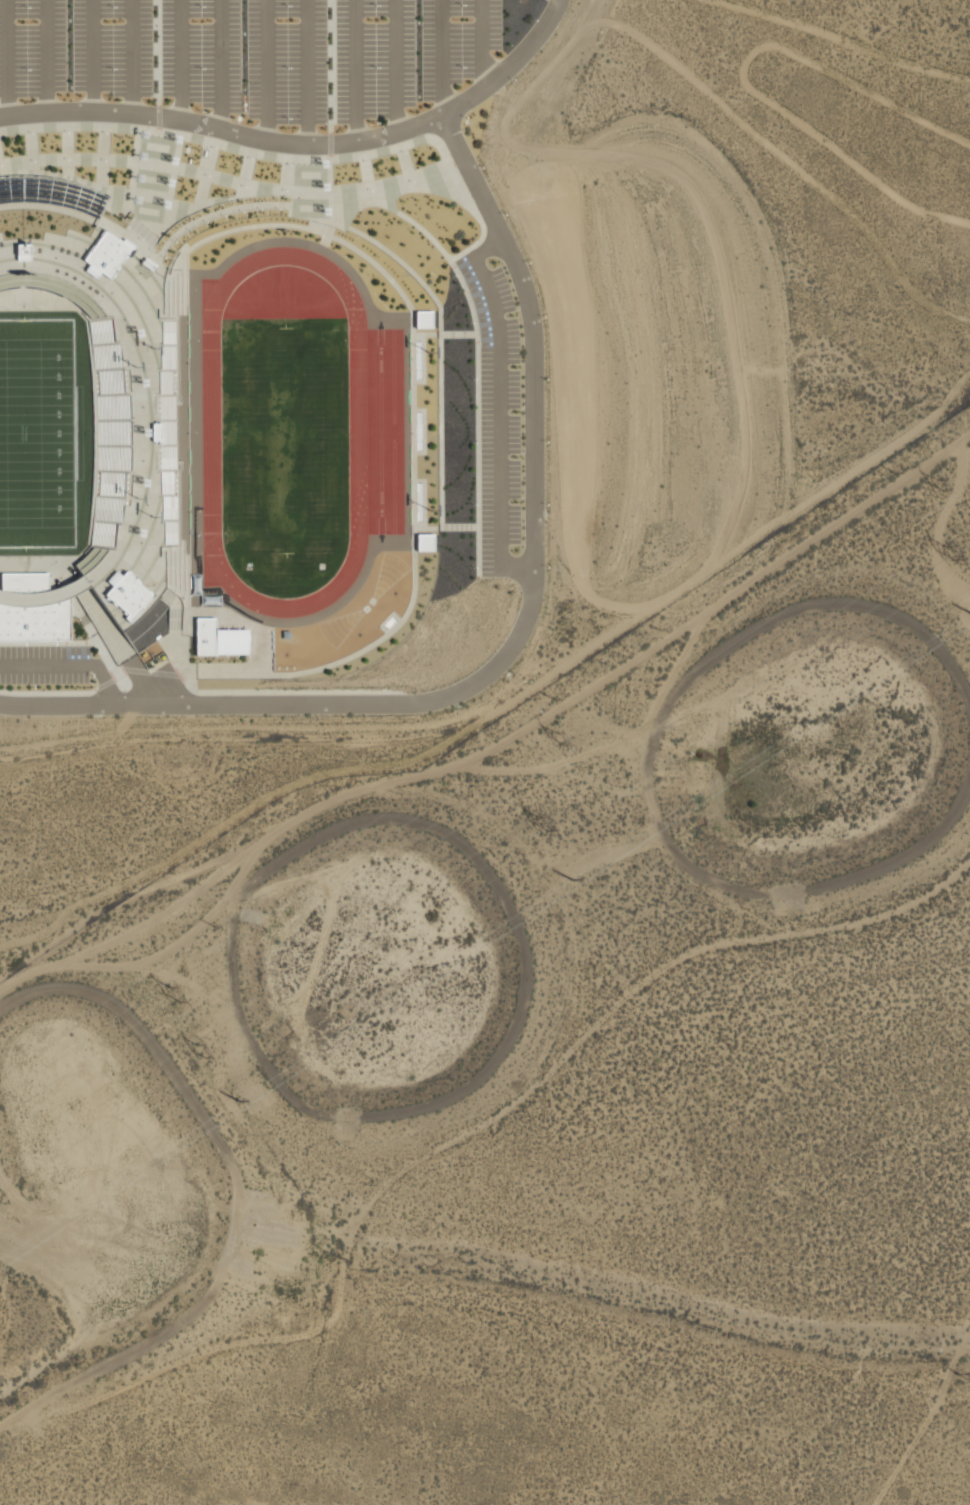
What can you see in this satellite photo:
road: (487, 46)
road: (92, 55)
road: (46, 56)
road: (132, 56)
parking lot: (261, 56)
road: (7, 57)
road: (446, 59)
road: (182, 60)
road: (220, 64)
road: (398, 66)
road: (515, 69)
road: (267, 70)
road: (356, 70)
road: (309, 71)
road: (224, 129)
building: (423, 319)
road: (499, 409)
stadium: (254, 419)
stadium: (103, 430)
track: (375, 432)
park: (37, 433)
park: (289, 442)
power tower: (942, 486)
power tower: (949, 553)
park: (388, 574)
building: (114, 587)
dam: (832, 596)
park: (340, 626)
road: (521, 640)
road: (70, 664)
power tower: (561, 740)
power tower: (543, 824)
power tower: (576, 883)
dam: (842, 888)
dam: (530, 941)
power tower: (171, 999)
power tower: (200, 1052)
power tower: (243, 1104)
dam: (239, 1174)
road: (236, 1195)
power tower: (959, 1375)

